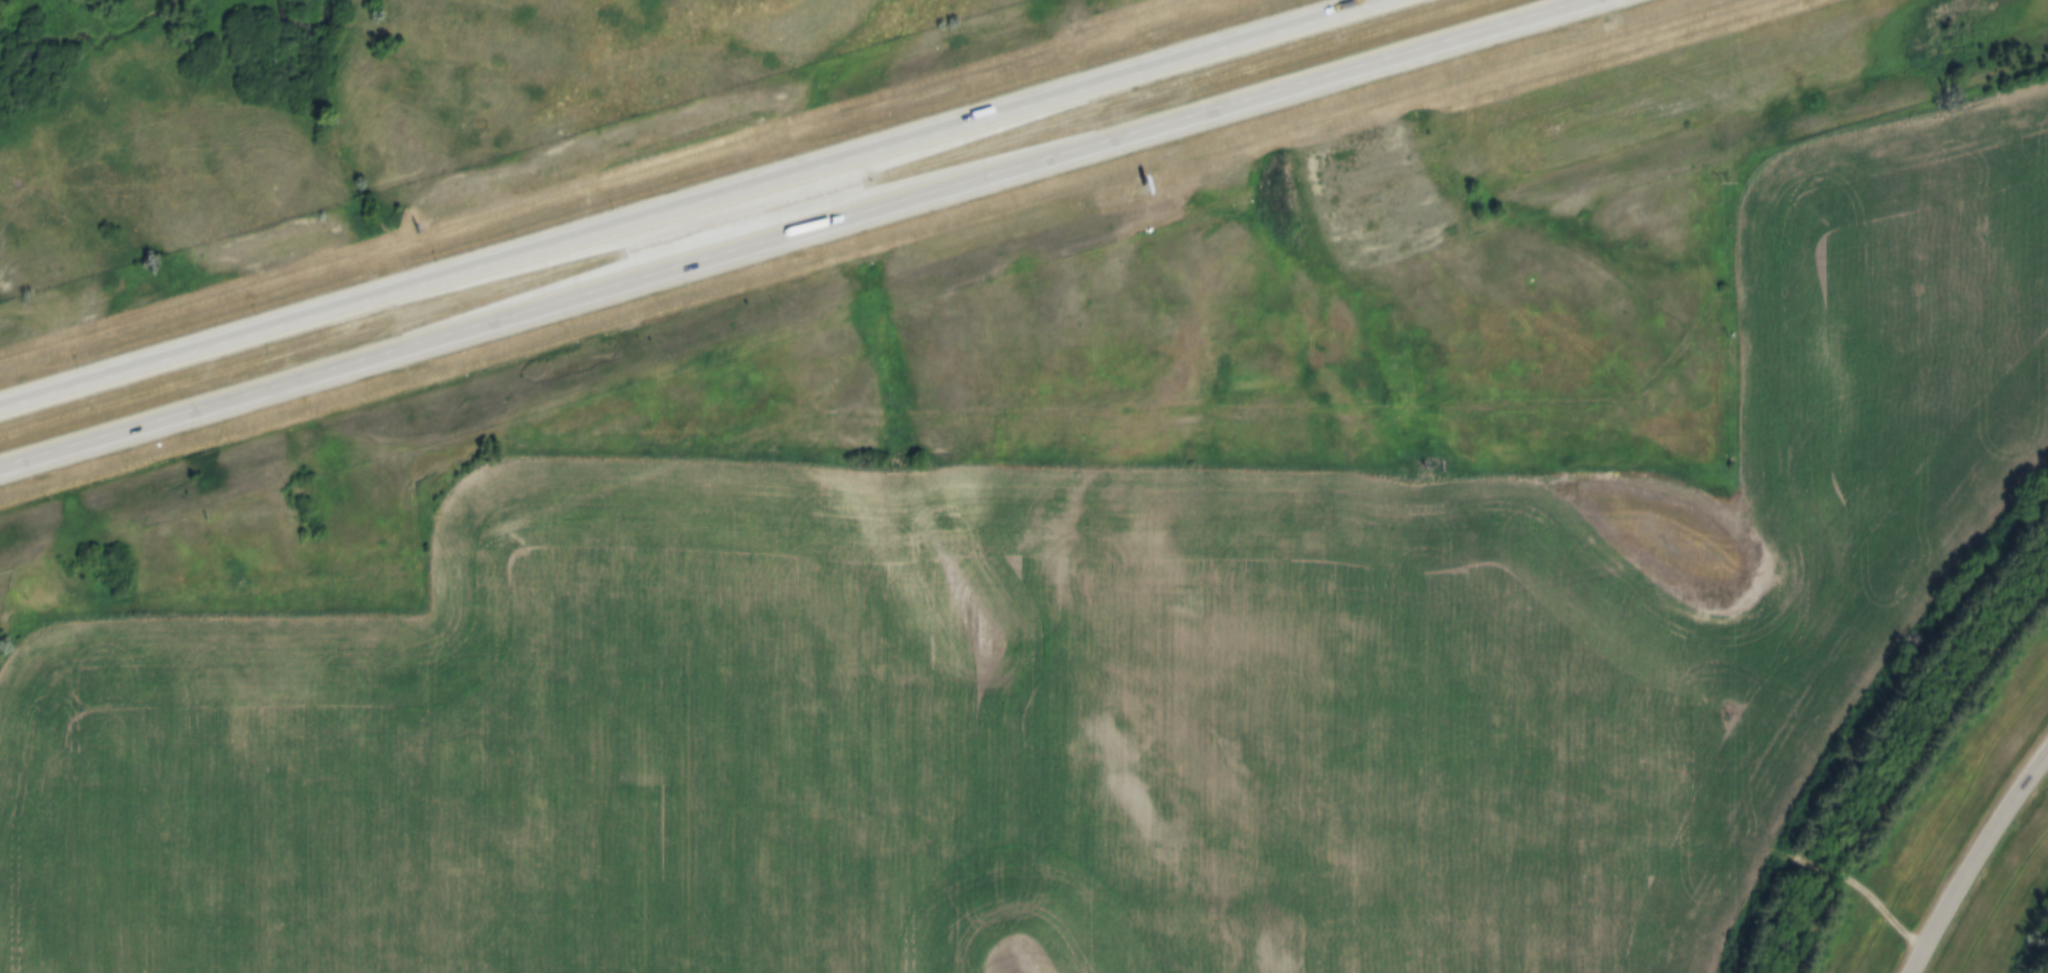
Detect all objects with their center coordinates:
road: (684, 201)
road: (800, 236)
road: (1975, 859)

